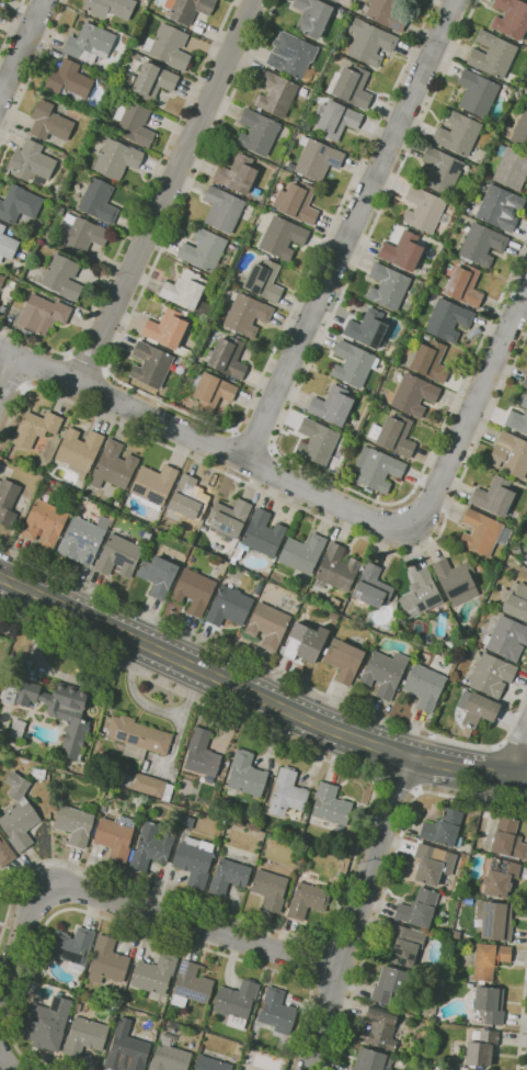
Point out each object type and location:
building: (333, 0)
building: (108, 7)
building: (188, 10)
building: (386, 13)
building: (312, 16)
building: (511, 18)
road: (11, 25)
building: (368, 42)
building: (89, 43)
building: (168, 46)
road: (21, 47)
building: (291, 55)
building: (492, 55)
road: (32, 70)
building: (68, 79)
building: (153, 81)
building: (119, 85)
building: (351, 87)
building: (275, 93)
building: (477, 93)
building: (517, 94)
building: (335, 120)
building: (48, 122)
building: (134, 124)
building: (520, 131)
building: (257, 132)
building: (458, 133)
building: (65, 157)
building: (317, 158)
building: (116, 159)
building: (31, 161)
building: (511, 168)
building: (440, 170)
building: (237, 174)
building: (479, 179)
road: (165, 191)
building: (98, 201)
building: (297, 202)
building: (19, 204)
building: (500, 207)
building: (222, 209)
building: (59, 210)
building: (423, 210)
road: (137, 211)
road: (352, 230)
building: (79, 235)
building: (282, 237)
building: (7, 244)
building: (481, 245)
building: (205, 251)
building: (402, 251)
building: (460, 262)
building: (61, 277)
building: (1, 280)
building: (263, 280)
building: (463, 285)
building: (387, 286)
building: (186, 292)
building: (43, 314)
building: (245, 314)
building: (447, 319)
building: (367, 328)
building: (168, 331)
building: (426, 337)
building: (227, 357)
building: (429, 361)
road: (89, 362)
building: (150, 364)
building: (353, 364)
road: (8, 374)
road: (12, 381)
building: (525, 382)
building: (210, 392)
building: (413, 395)
building: (332, 406)
road: (471, 408)
road: (199, 418)
building: (518, 418)
road: (284, 419)
building: (35, 428)
building: (396, 436)
road: (253, 440)
building: (316, 441)
road: (205, 442)
building: (78, 450)
building: (509, 454)
building: (113, 466)
building: (377, 469)
building: (153, 485)
building: (127, 494)
building: (72, 495)
building: (494, 496)
building: (83, 497)
building: (187, 498)
building: (8, 502)
building: (115, 504)
road: (307, 513)
building: (229, 518)
building: (43, 523)
building: (483, 532)
building: (260, 537)
building: (83, 539)
building: (516, 550)
building: (301, 553)
building: (118, 555)
building: (477, 566)
building: (336, 568)
building: (158, 575)
building: (456, 581)
building: (371, 587)
building: (256, 589)
building: (194, 590)
building: (420, 594)
building: (515, 600)
building: (334, 604)
building: (229, 607)
building: (333, 616)
building: (400, 622)
building: (267, 626)
building: (506, 638)
building: (450, 641)
building: (305, 642)
building: (479, 645)
building: (343, 660)
road: (274, 672)
building: (383, 673)
building: (491, 675)
building: (424, 686)
road: (256, 696)
building: (476, 708)
building: (55, 709)
building: (16, 729)
building: (467, 732)
building: (137, 736)
road: (515, 751)
building: (202, 754)
building: (38, 774)
building: (245, 774)
building: (148, 785)
road: (396, 785)
building: (287, 792)
building: (330, 806)
building: (51, 808)
building: (19, 814)
building: (187, 822)
building: (73, 825)
building: (444, 829)
building: (115, 837)
building: (507, 840)
building: (151, 845)
road: (353, 848)
building: (5, 853)
building: (193, 861)
building: (432, 864)
building: (229, 877)
road: (388, 877)
building: (500, 877)
building: (270, 889)
building: (307, 900)
building: (417, 909)
road: (356, 913)
building: (495, 922)
road: (193, 924)
road: (134, 926)
road: (20, 944)
building: (404, 944)
road: (324, 945)
building: (72, 948)
building: (489, 960)
building: (106, 961)
road: (320, 962)
building: (153, 975)
road: (313, 982)
building: (191, 984)
building: (390, 985)
building: (236, 1002)
building: (490, 1004)
building: (276, 1012)
building: (211, 1015)
road: (522, 1018)
building: (47, 1023)
building: (379, 1028)
building: (84, 1036)
building: (481, 1049)
building: (129, 1051)
building: (169, 1055)
building: (371, 1060)
building: (211, 1065)
road: (5, 1067)
building: (119, 1069)

